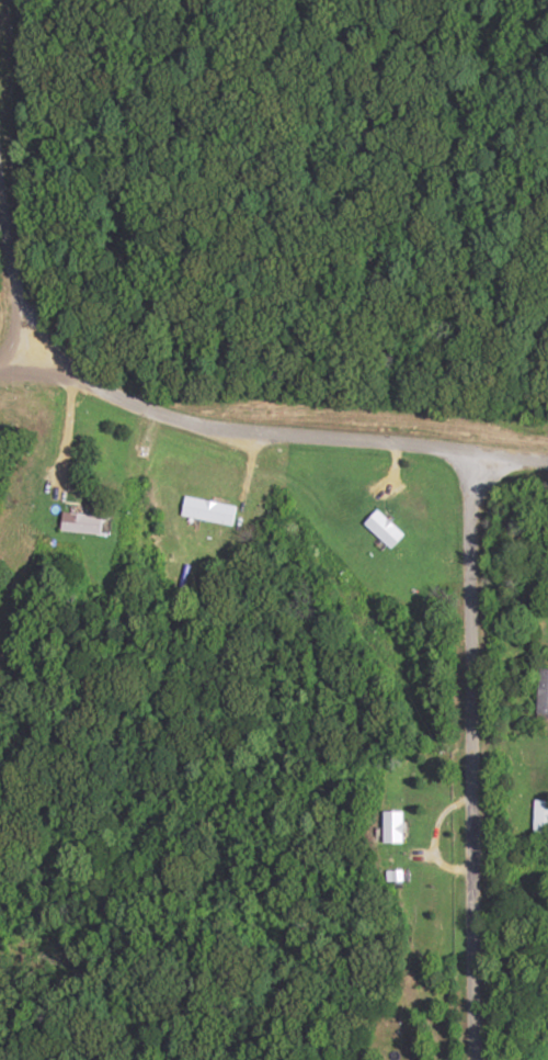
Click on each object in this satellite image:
road: (19, 270)
road: (19, 361)
road: (530, 426)
road: (287, 430)
building: (210, 510)
building: (85, 522)
building: (387, 527)
building: (544, 690)
road: (473, 755)
building: (541, 821)
building: (393, 826)

